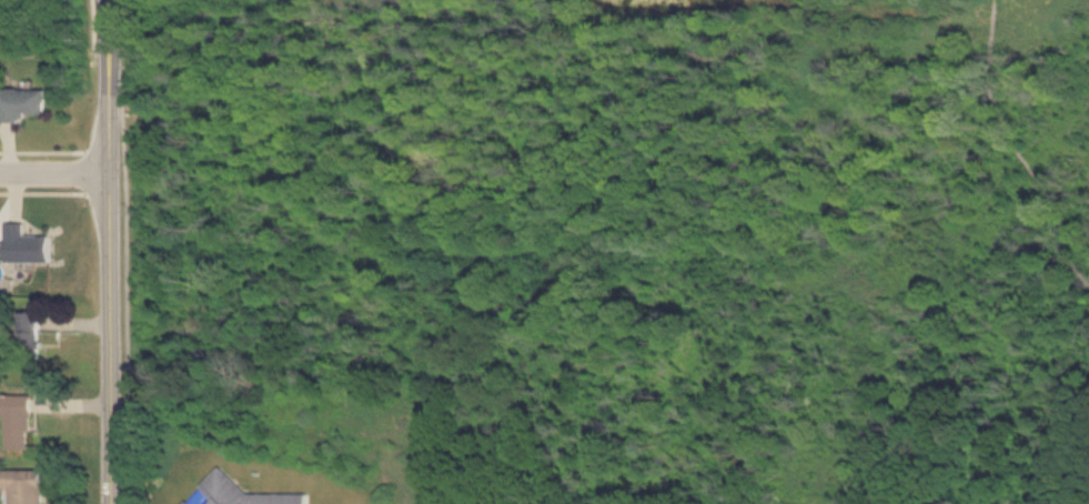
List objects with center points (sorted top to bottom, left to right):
building: (21, 101)
road: (58, 174)
building: (26, 244)
road: (115, 251)
building: (28, 334)
building: (16, 421)
building: (22, 486)
building: (249, 493)
building: (188, 502)

